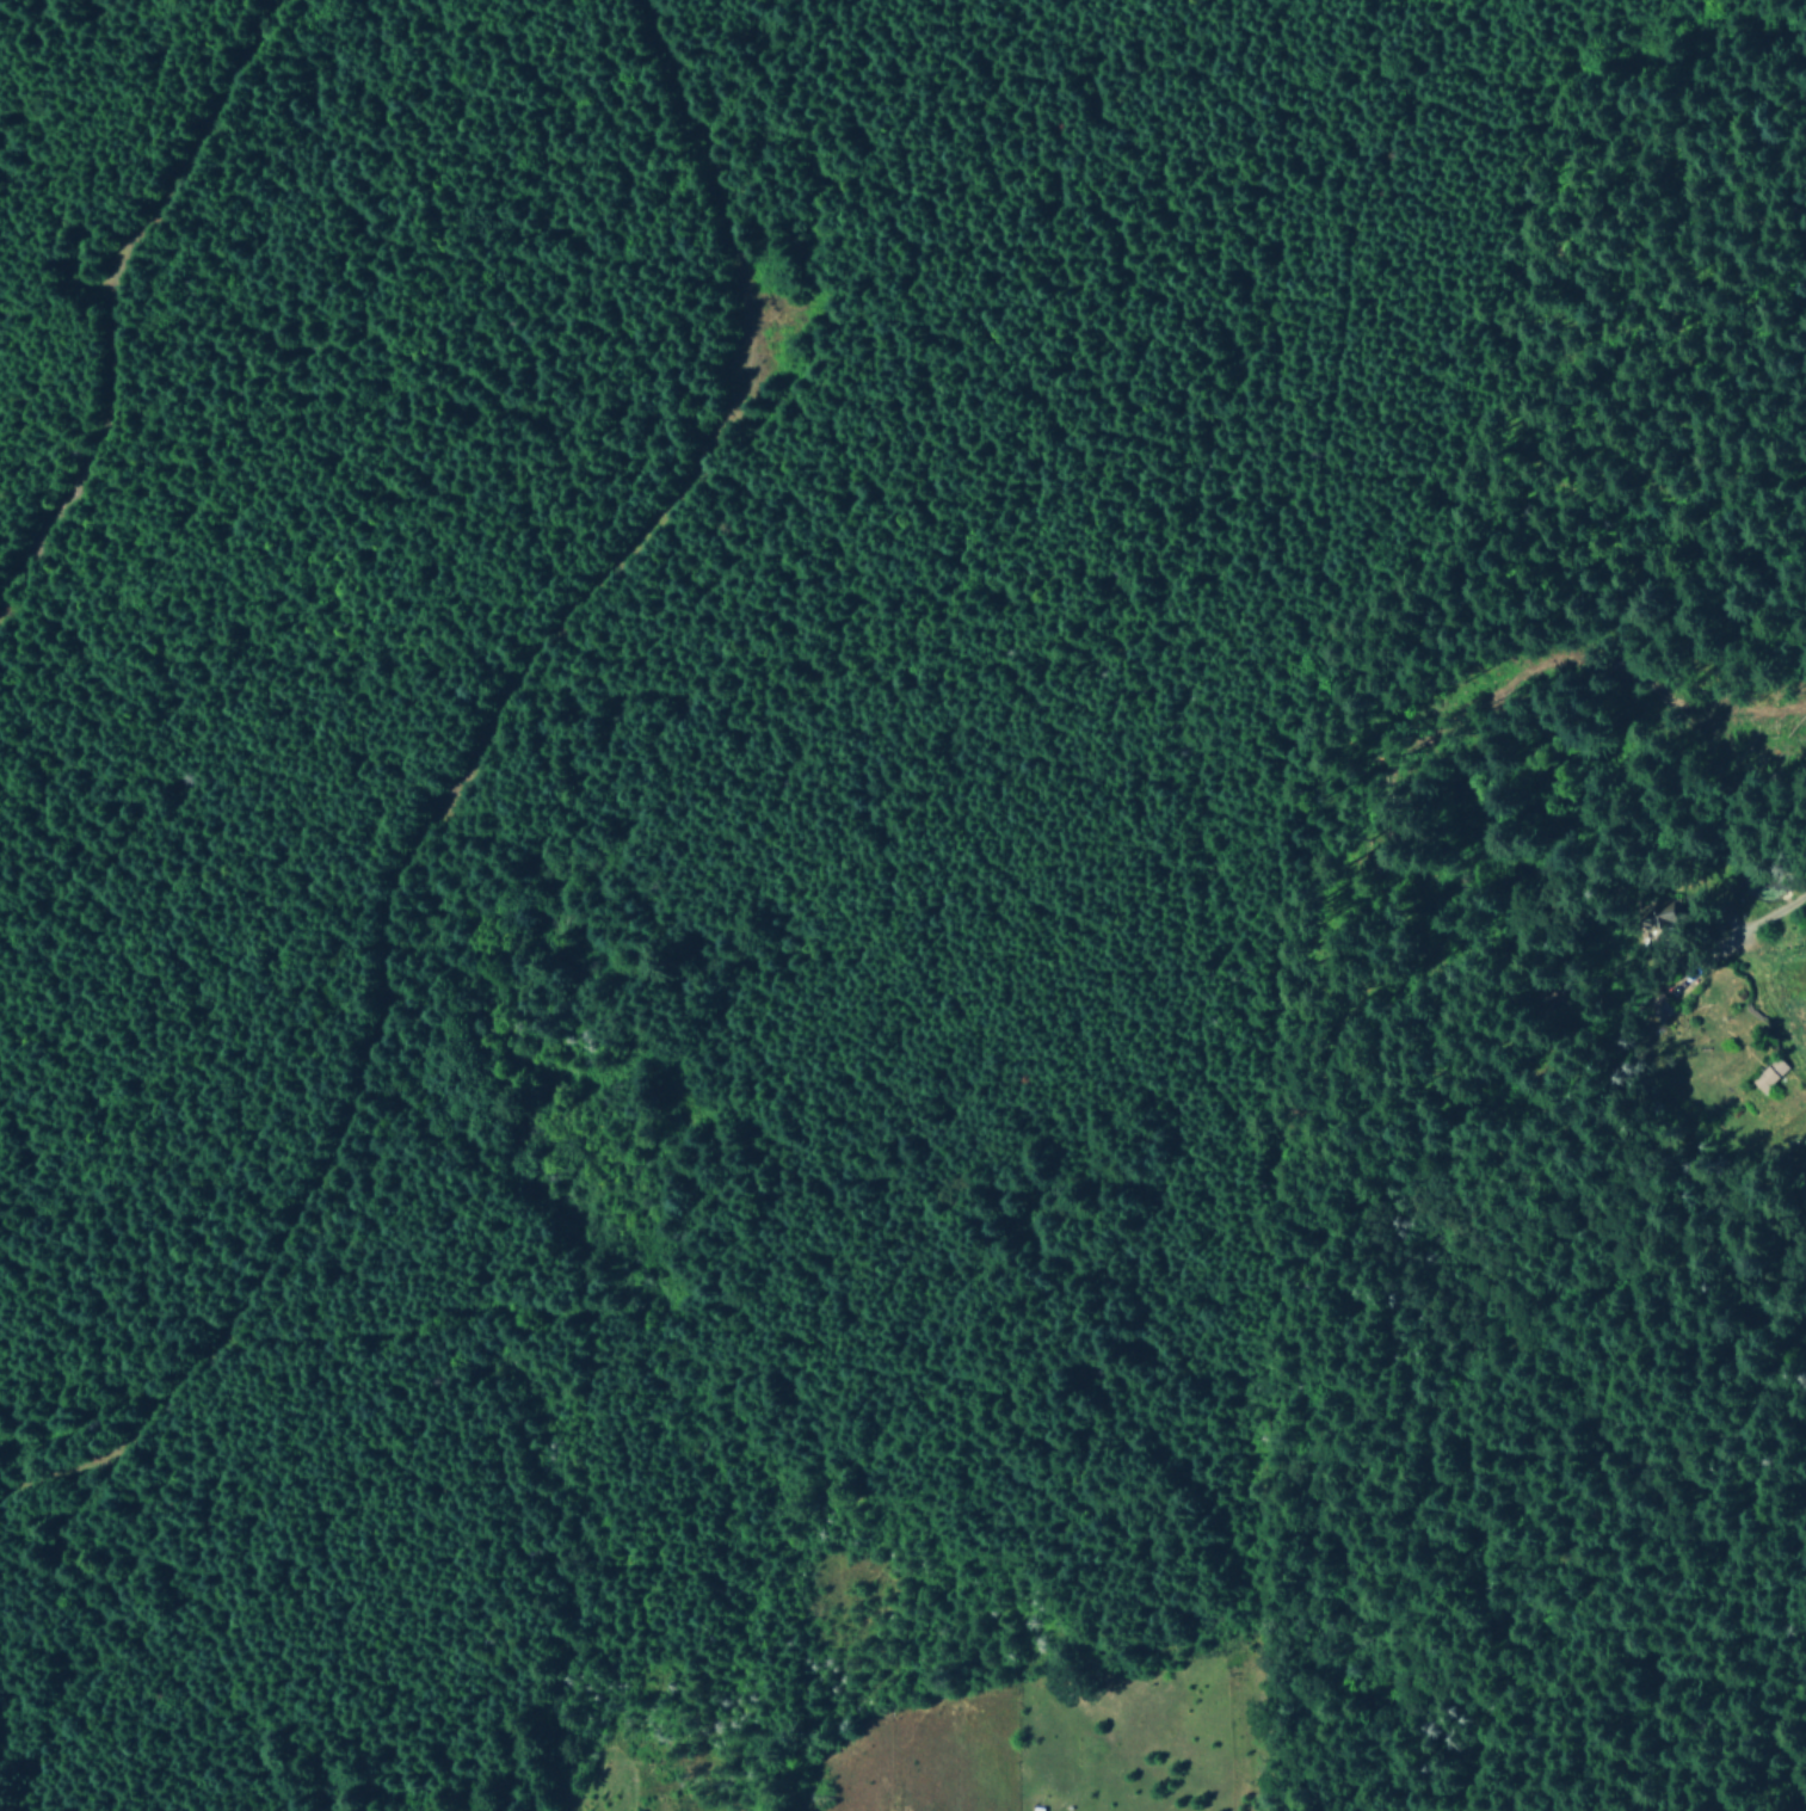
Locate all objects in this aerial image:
road: (1734, 898)
building: (1768, 1073)

